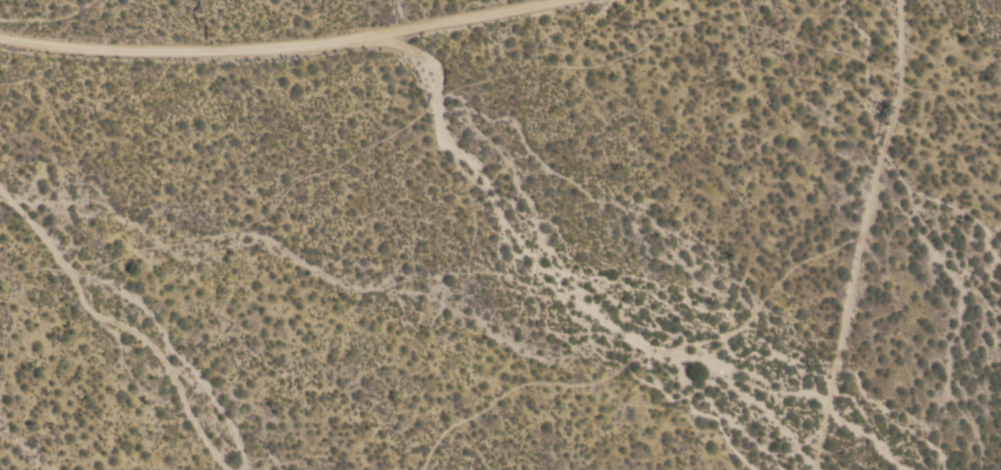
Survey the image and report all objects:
road: (270, 43)
road: (861, 235)

